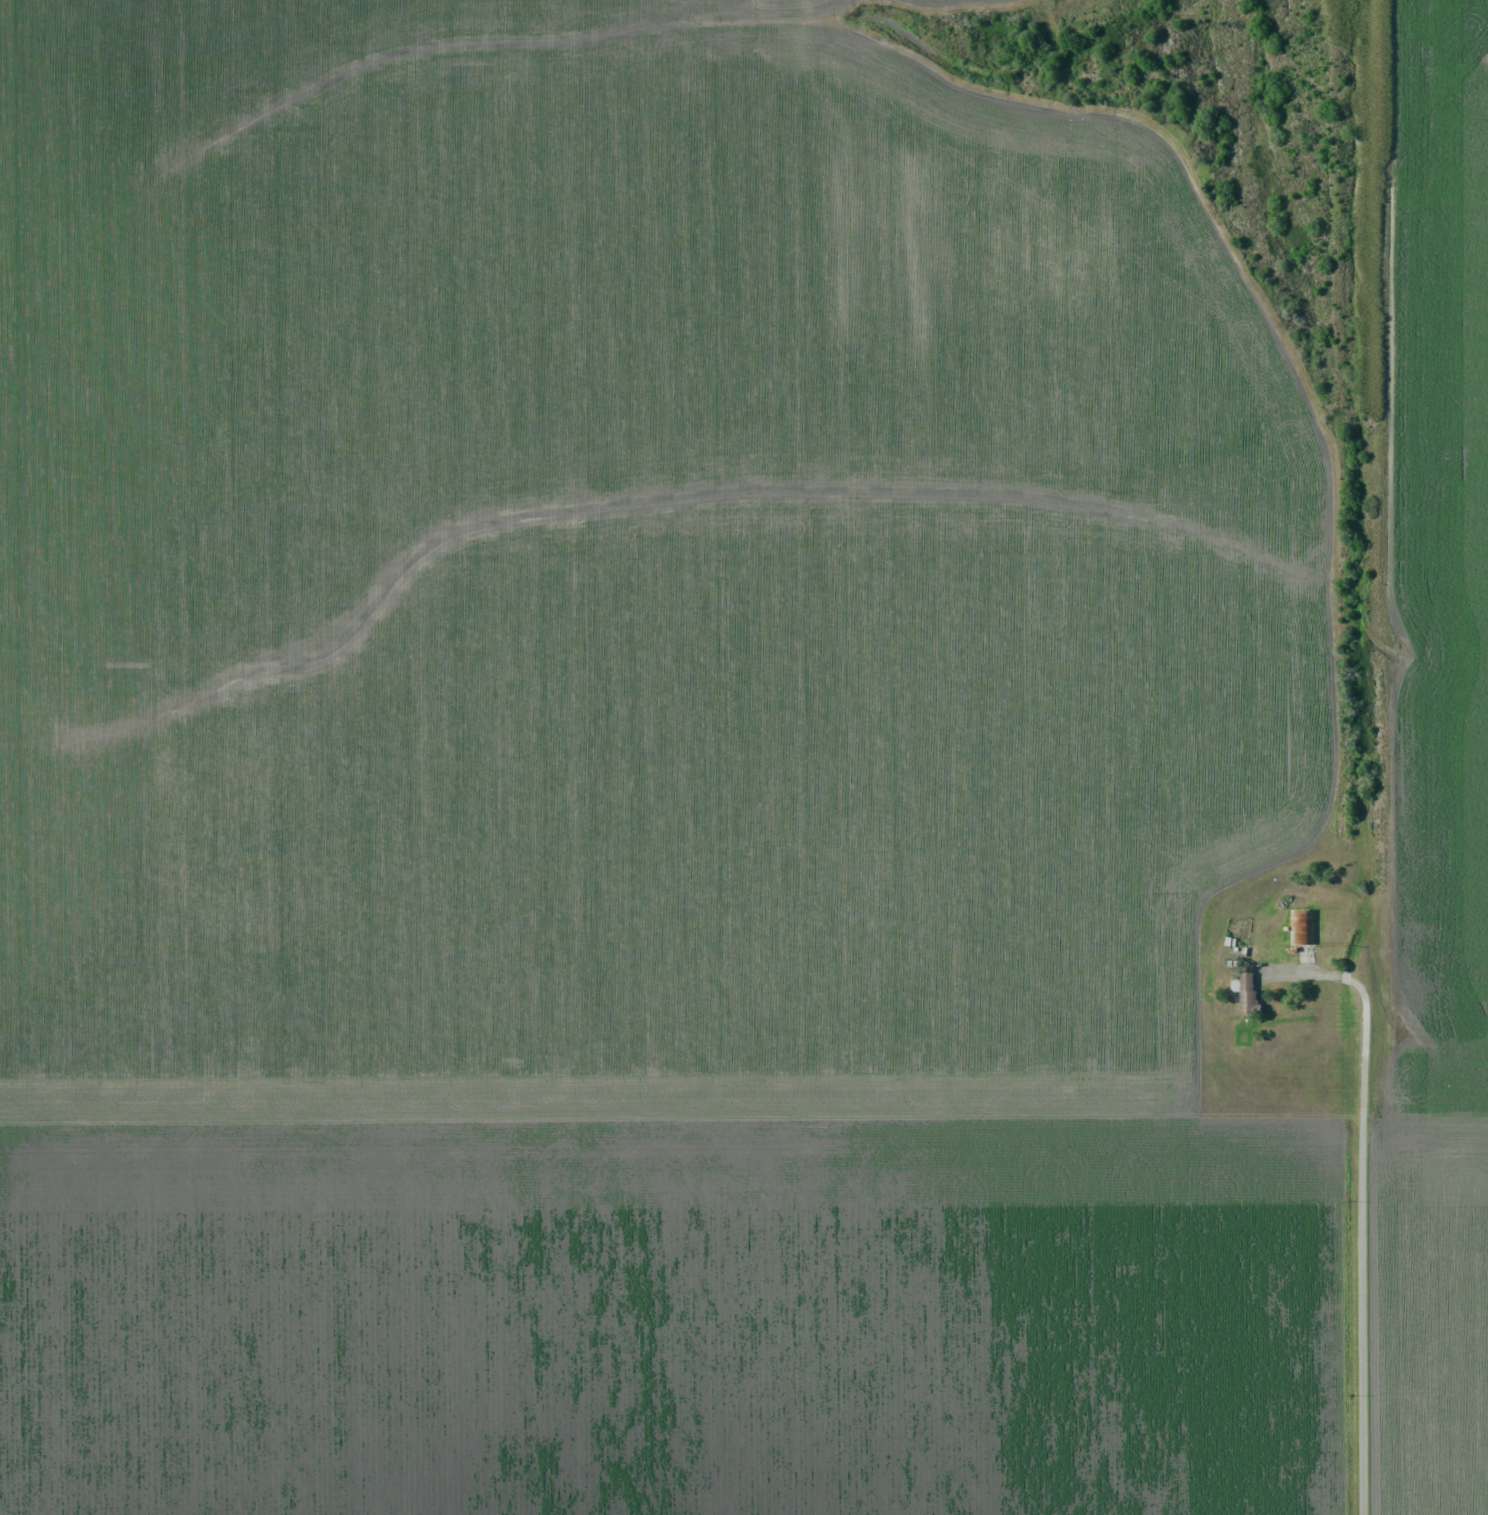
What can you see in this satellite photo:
building: (1301, 926)
building: (1250, 992)
road: (1387, 1180)

